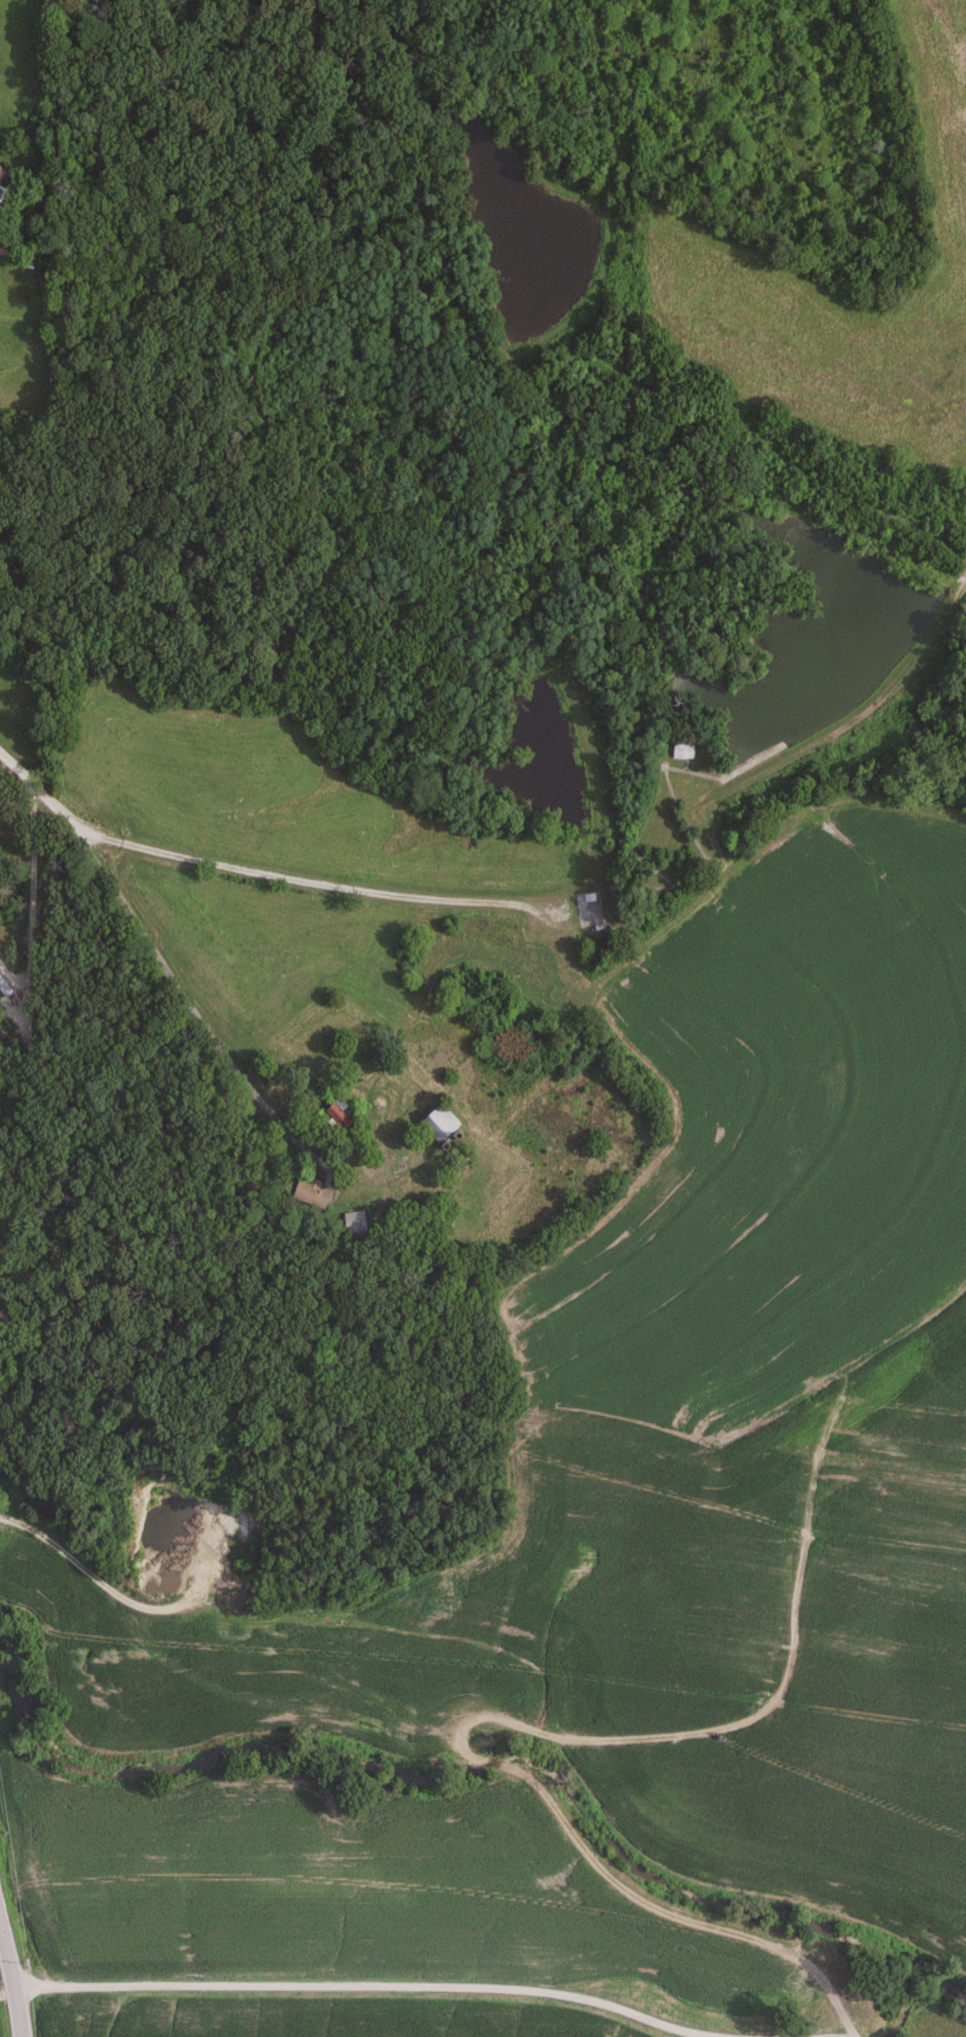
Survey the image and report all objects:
building: (2, 173)
building: (3, 252)
building: (684, 751)
road: (312, 884)
building: (330, 1114)
building: (436, 1119)
road: (401, 1173)
building: (454, 1178)
building: (308, 1193)
building: (352, 1231)
river: (476, 1768)
road: (10, 1984)
road: (361, 1987)

